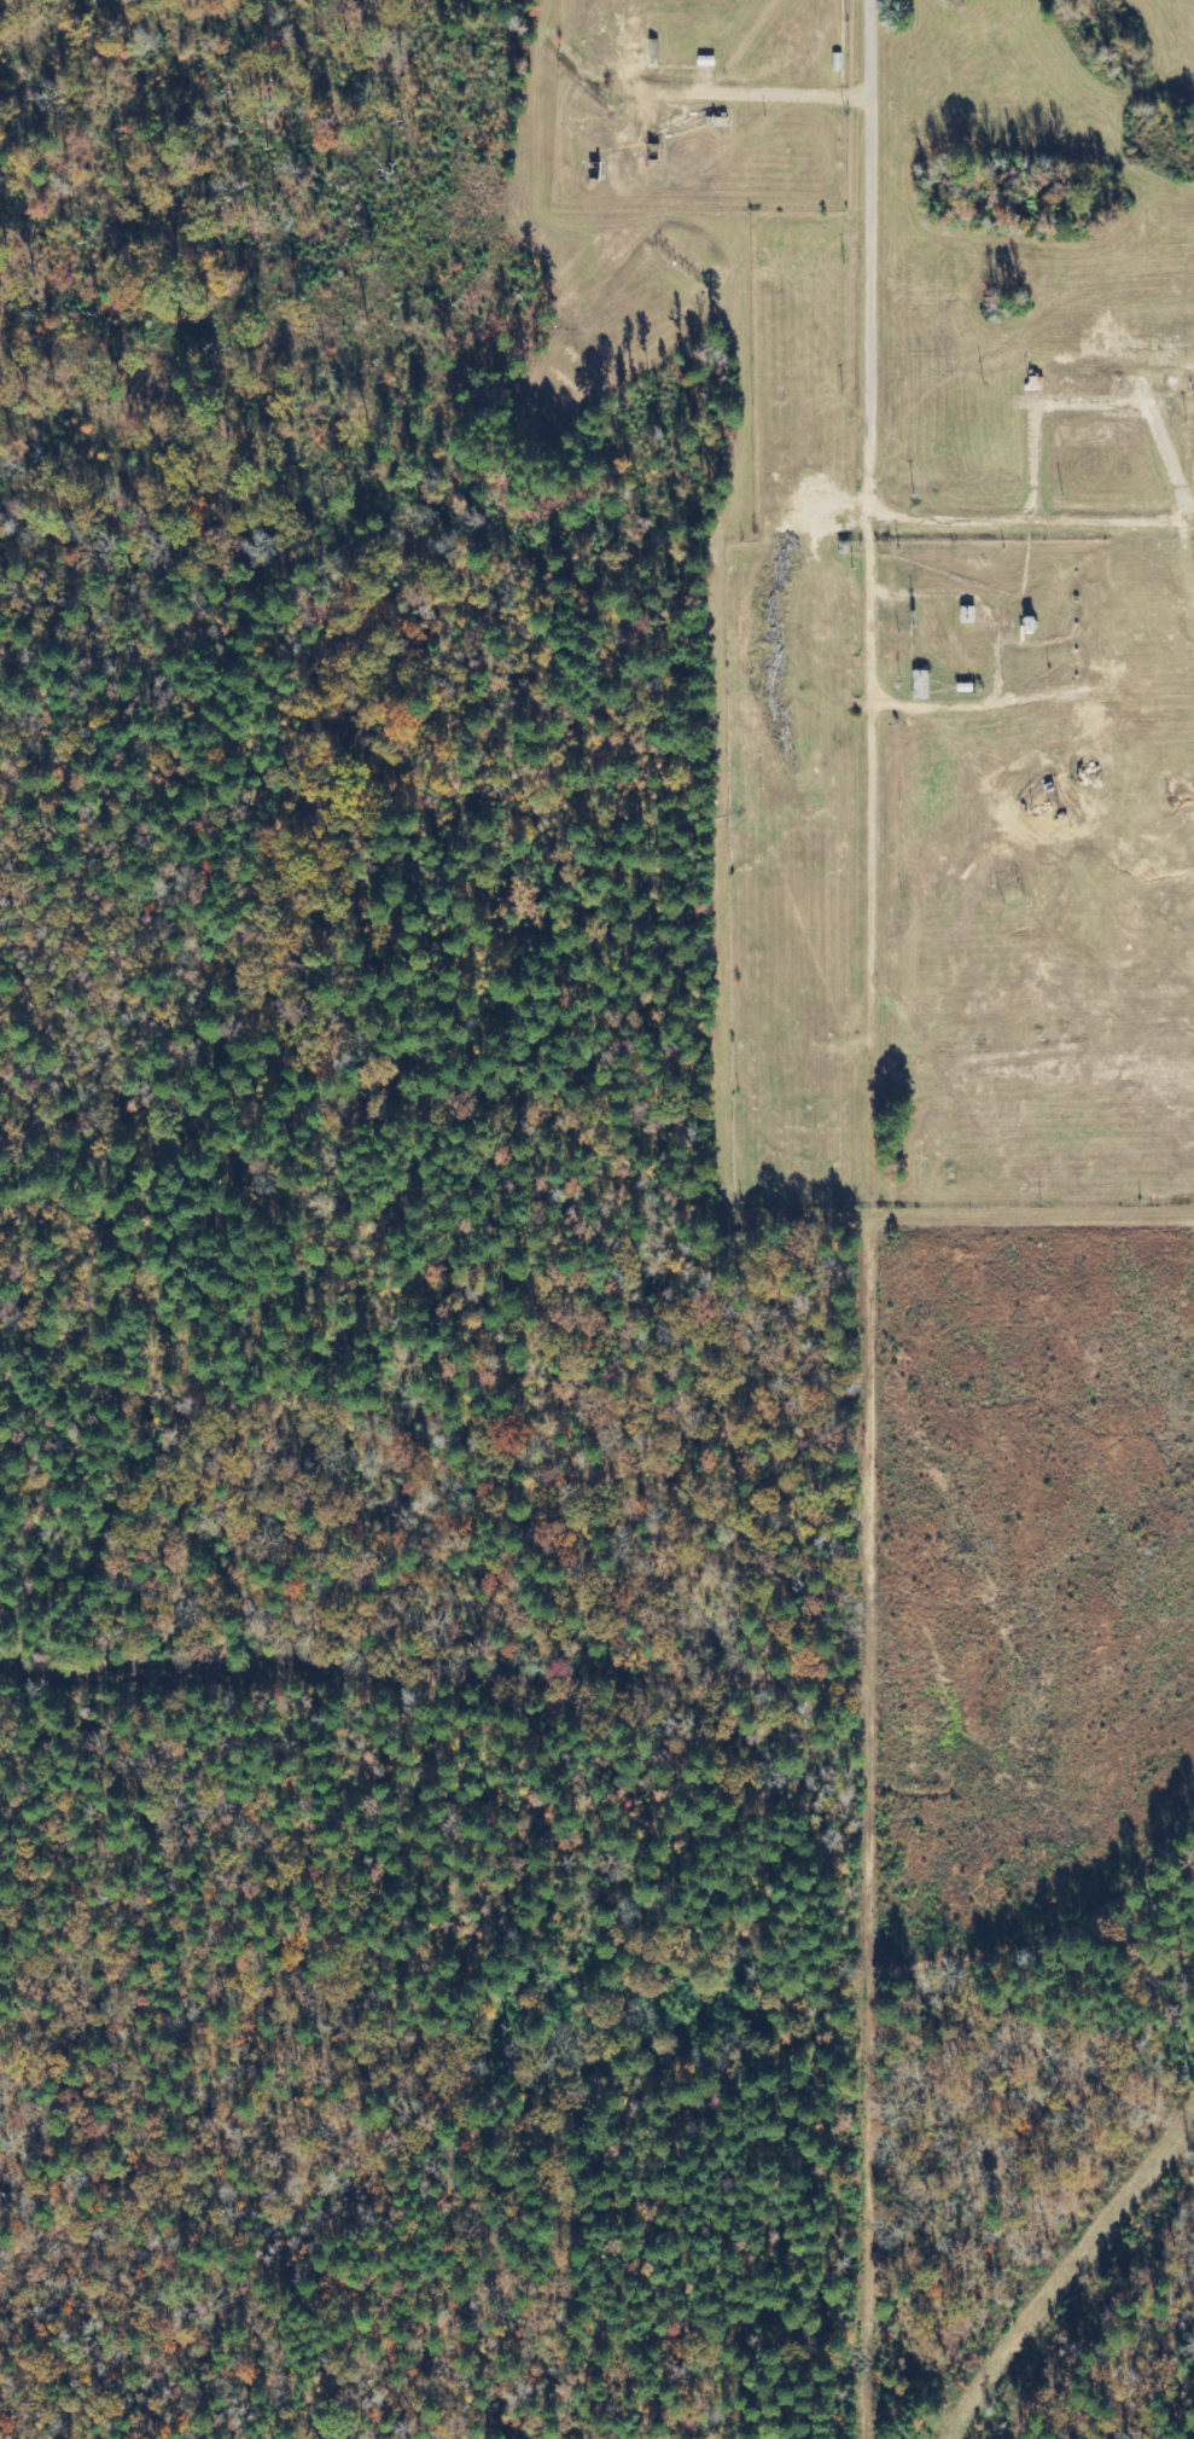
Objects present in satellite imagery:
road: (1041, 524)
road: (887, 1219)
road: (443, 1673)

